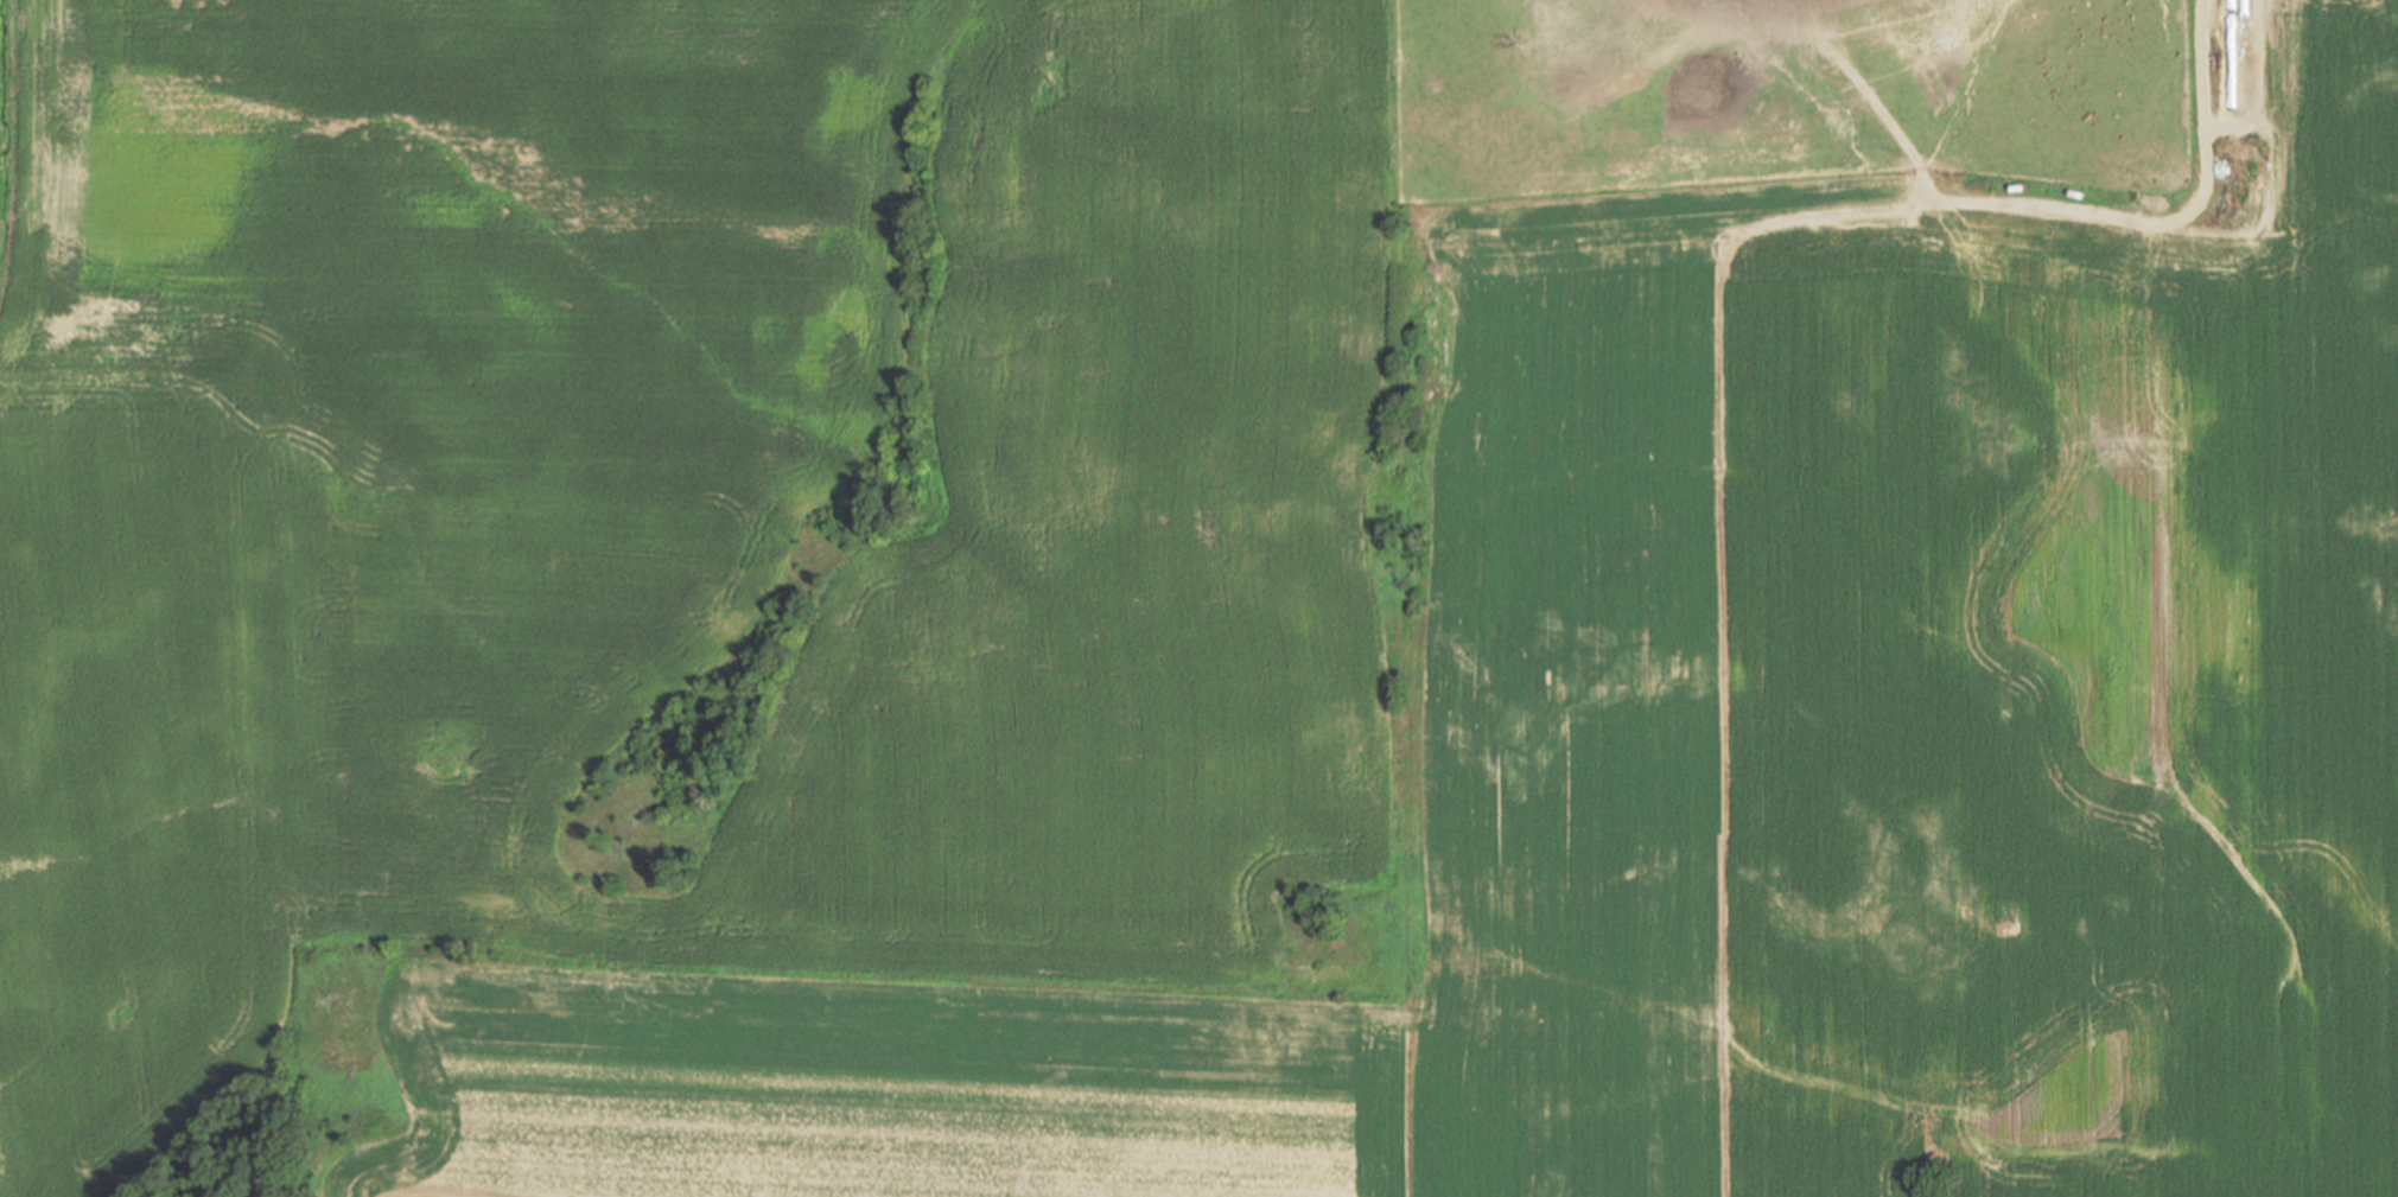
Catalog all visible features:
crop: (2341, 592)

